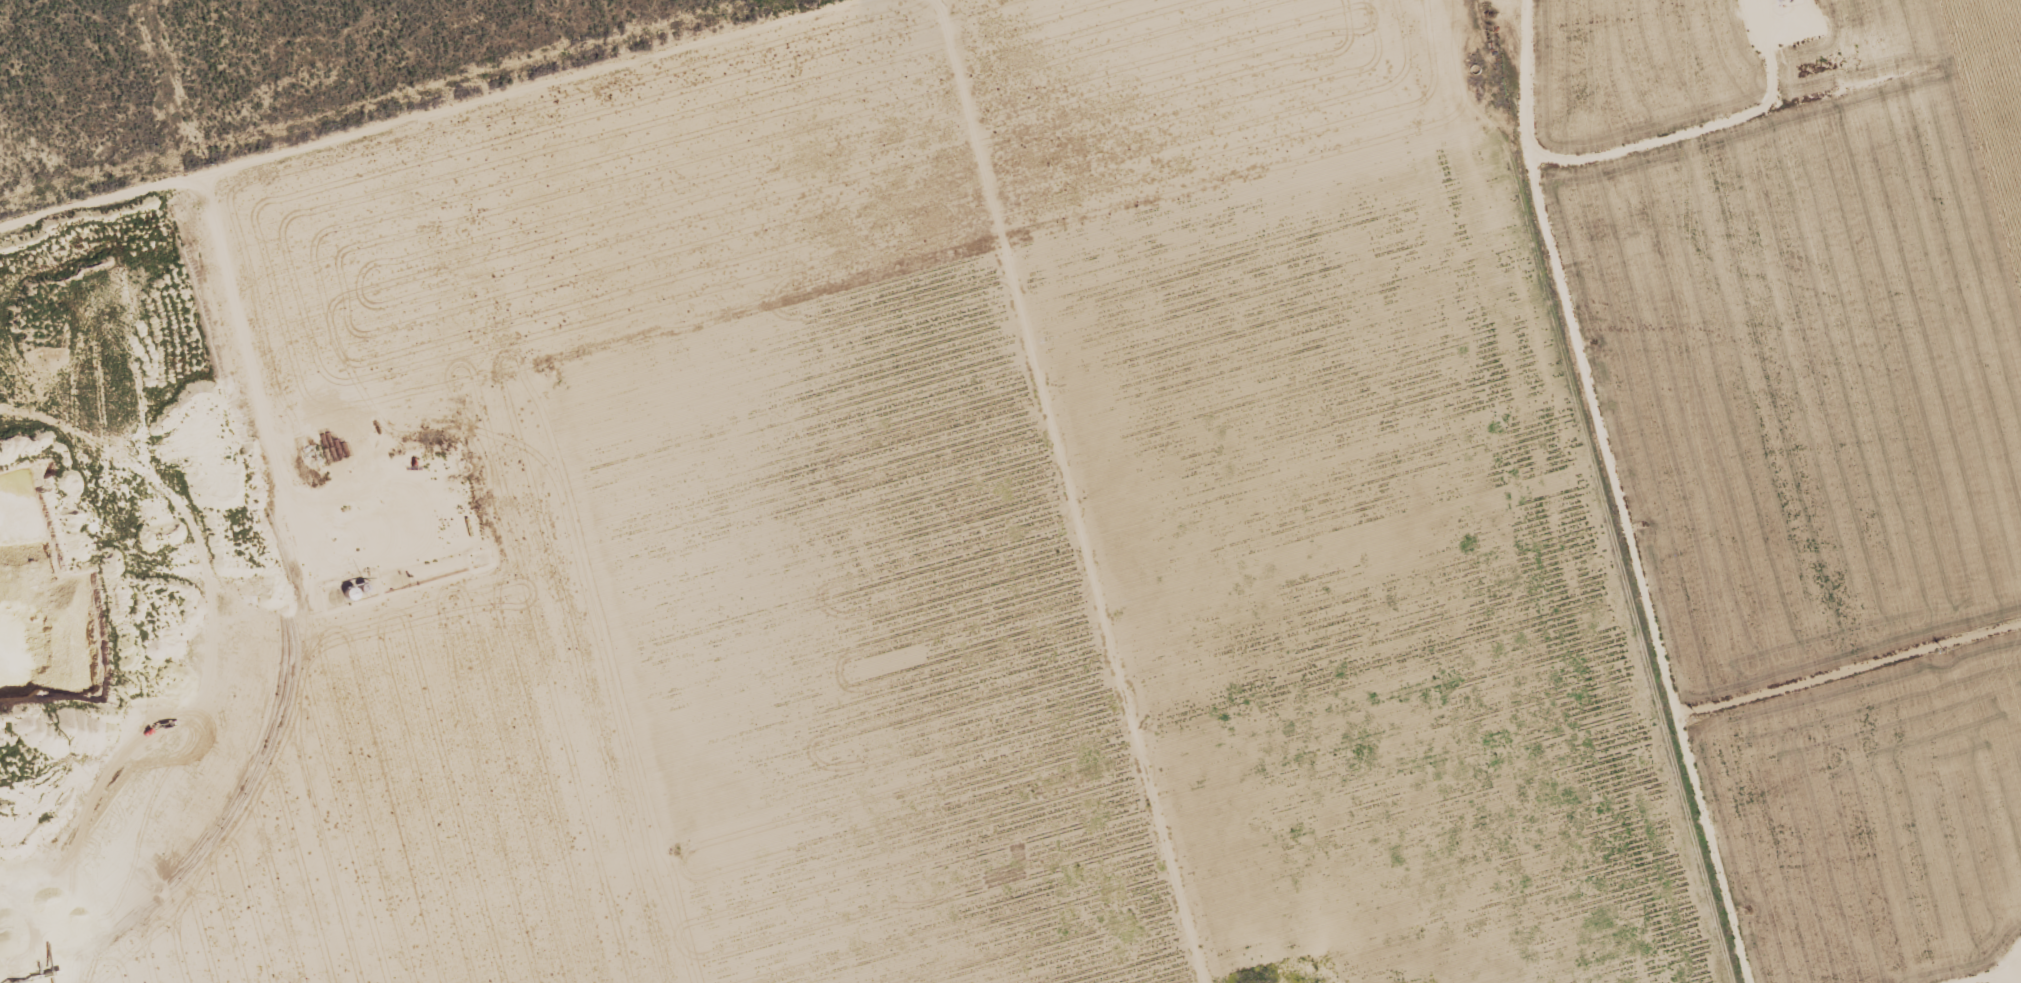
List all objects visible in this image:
road: (444, 121)
road: (957, 491)

